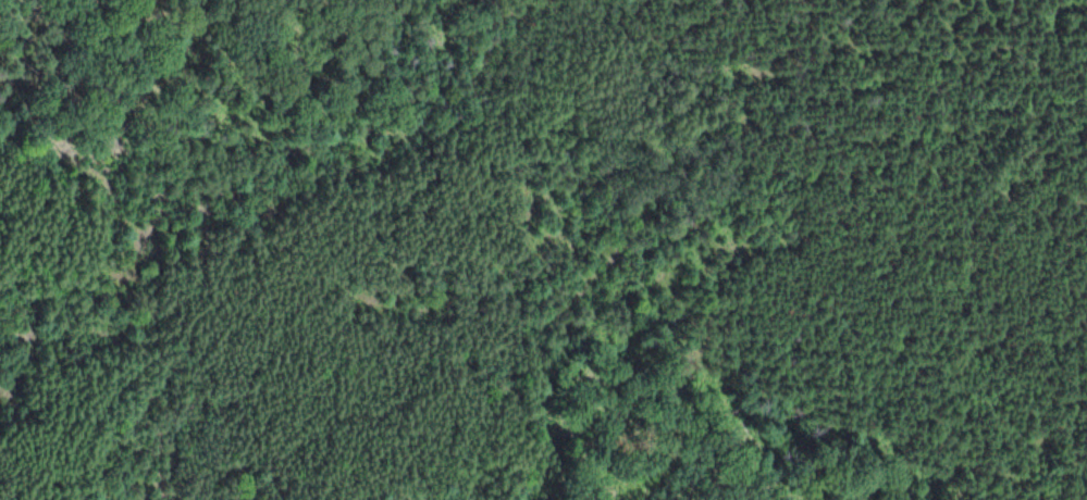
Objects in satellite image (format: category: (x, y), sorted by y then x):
road: (456, 359)

